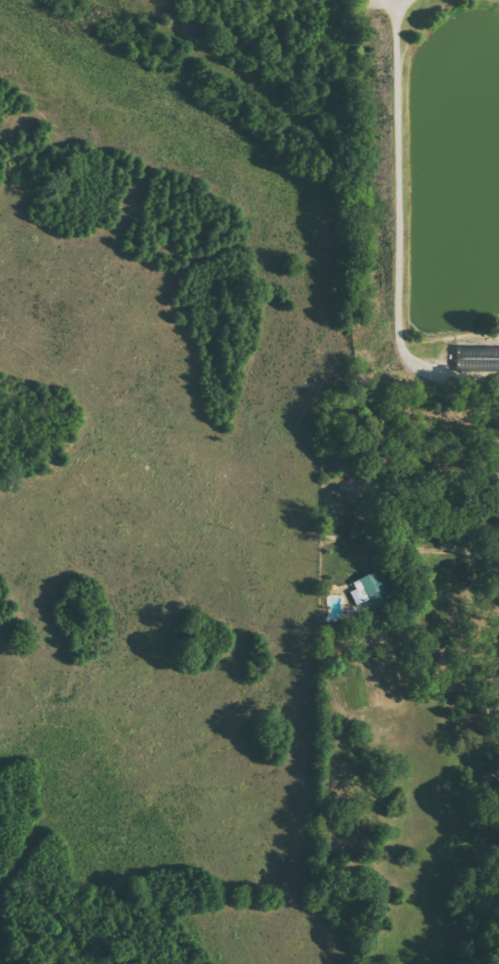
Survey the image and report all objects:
road: (395, 226)
road: (455, 336)
building: (479, 358)
road: (457, 556)
building: (374, 590)

